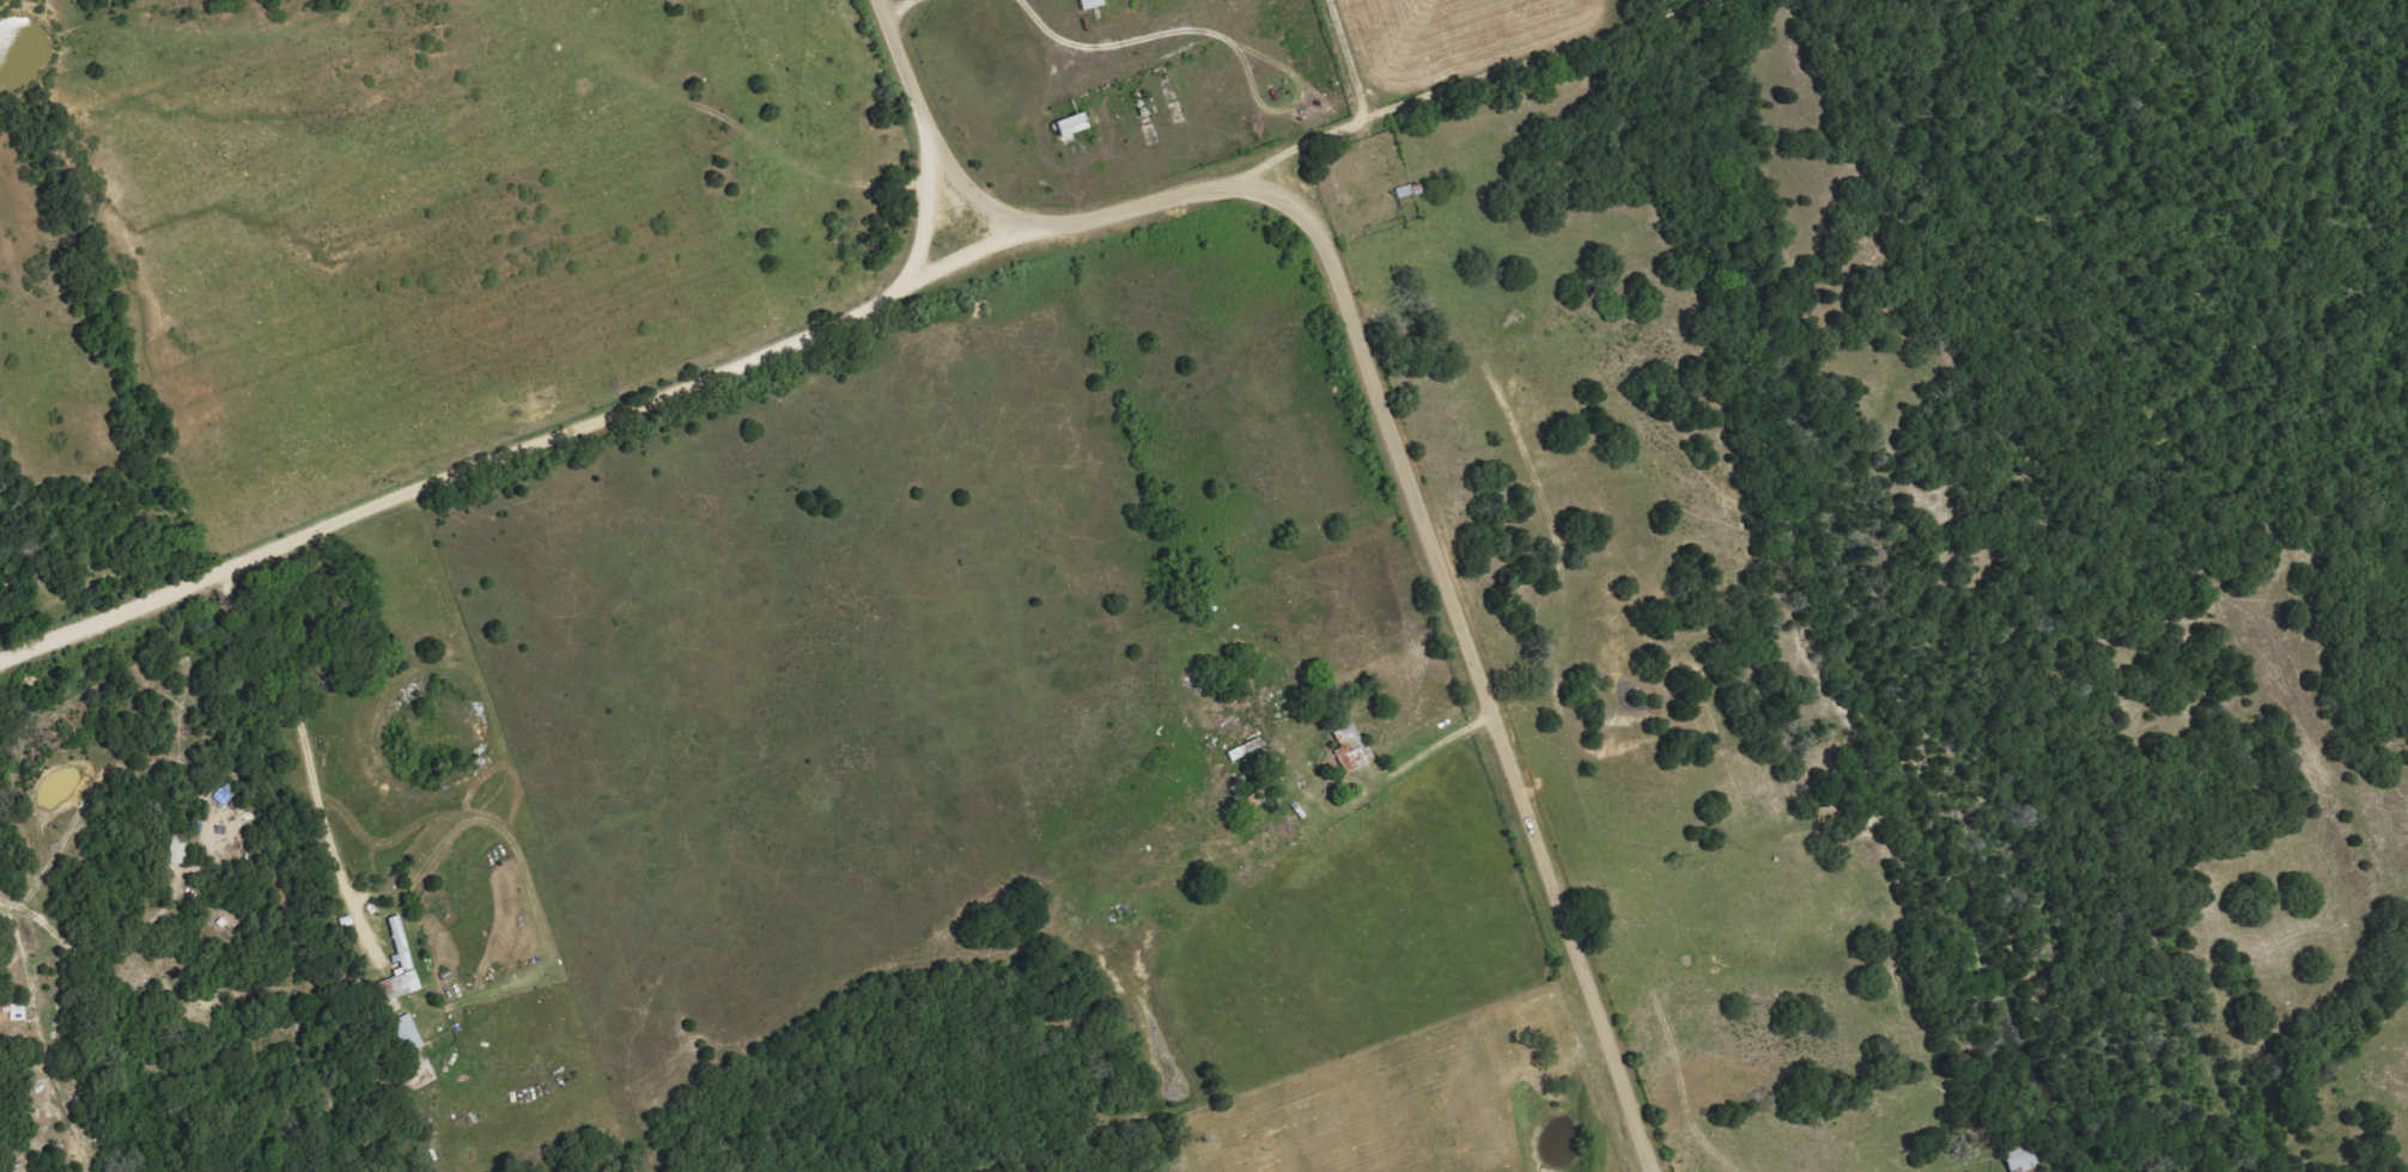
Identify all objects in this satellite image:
building: (1093, 4)
road: (1354, 80)
road: (1570, 98)
building: (1074, 124)
road: (920, 234)
road: (963, 264)
road: (1386, 421)
road: (448, 477)
road: (305, 746)
building: (1354, 750)
building: (180, 850)
road: (101, 947)
building: (401, 965)
building: (18, 1012)
building: (409, 1033)
building: (2023, 1159)

